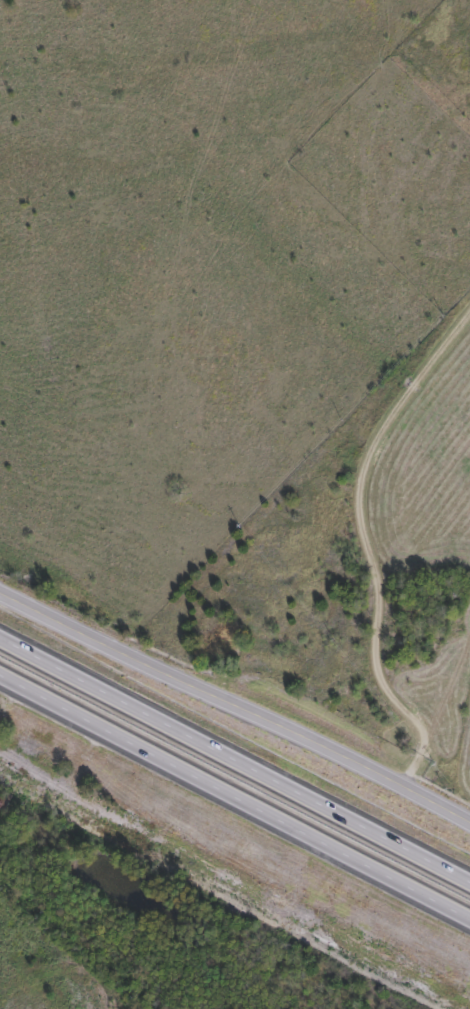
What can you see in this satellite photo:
road: (365, 542)
road: (235, 705)
road: (235, 757)
road: (235, 797)

